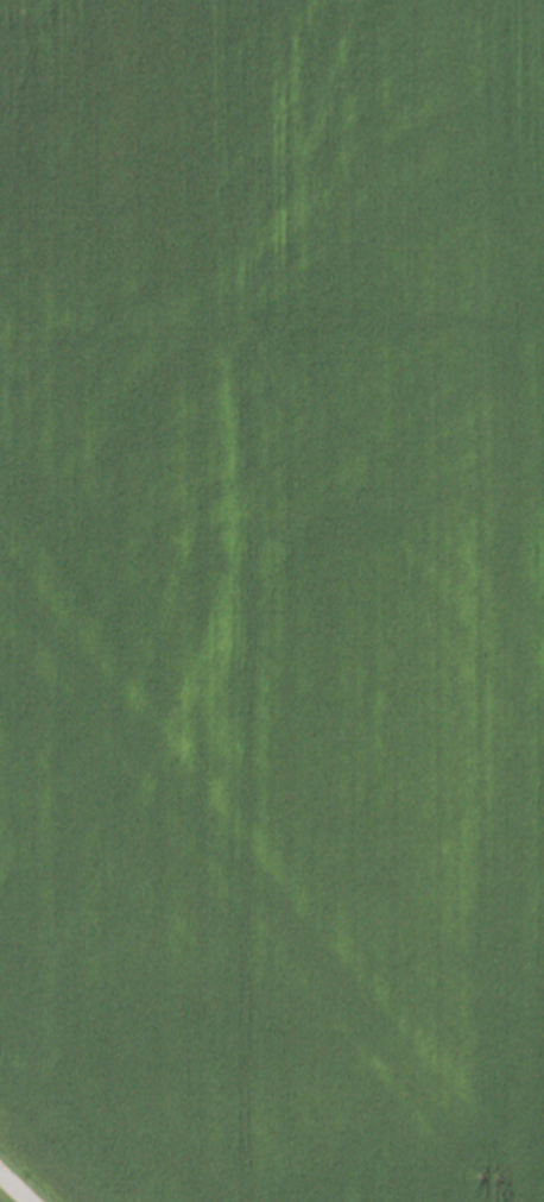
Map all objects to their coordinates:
road: (2, 1198)

